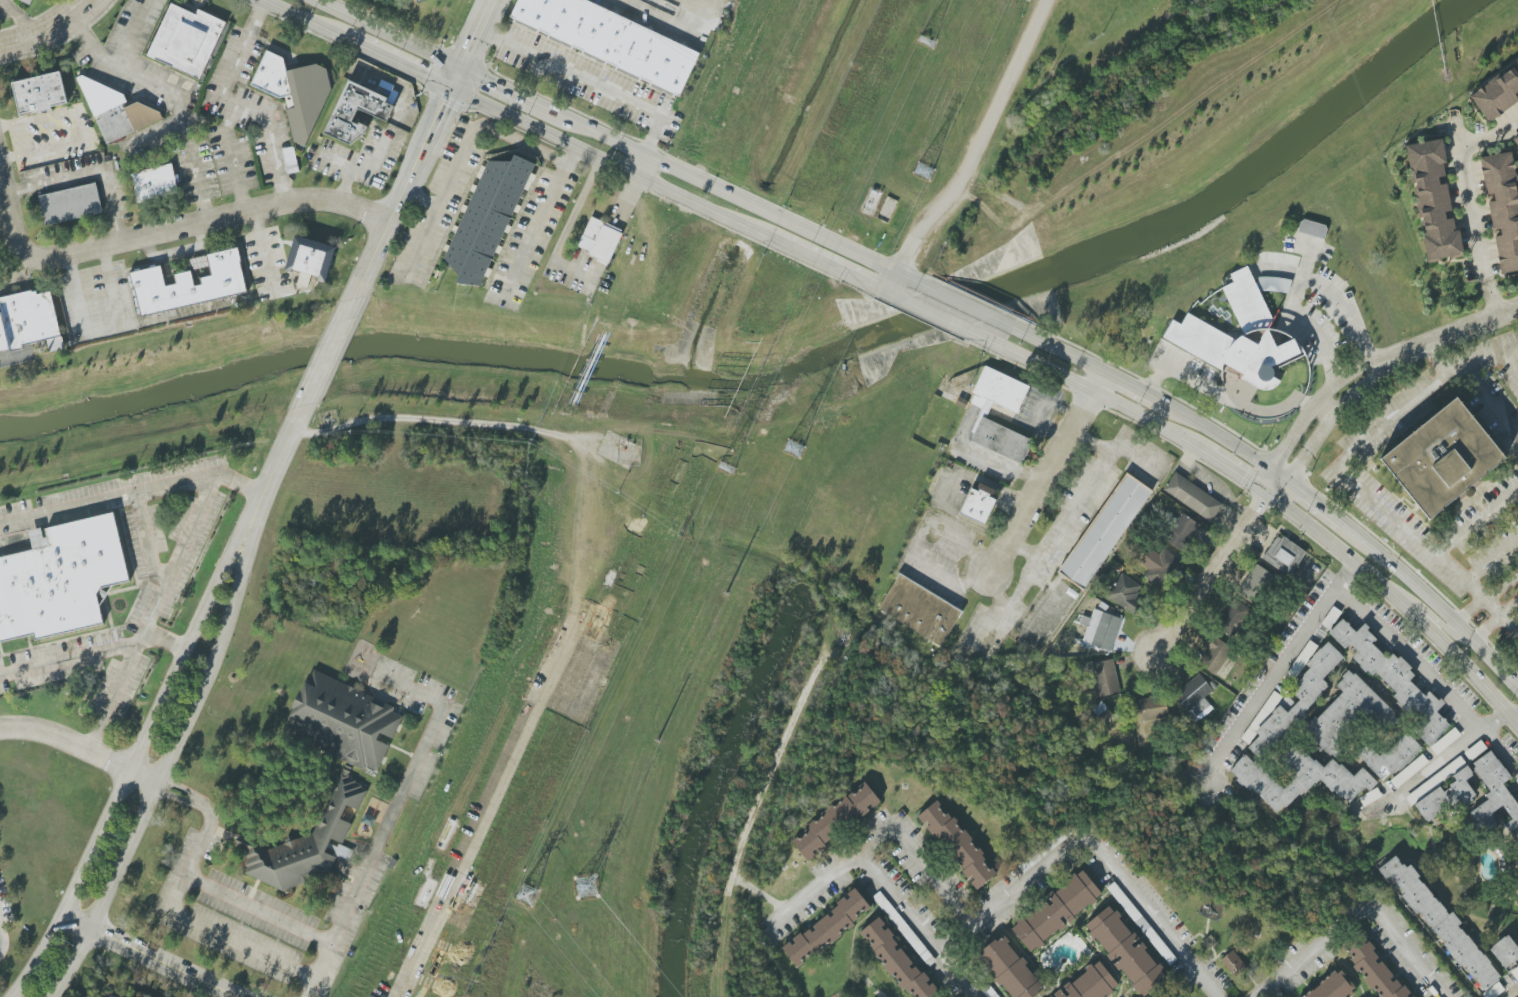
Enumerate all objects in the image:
building: (419, 0)
building: (26, 1)
road: (696, 6)
road: (657, 18)
road: (705, 18)
road: (305, 19)
road: (54, 31)
road: (476, 33)
road: (385, 34)
road: (138, 36)
building: (186, 40)
building: (607, 41)
power tower: (926, 41)
traffic signals: (462, 68)
road: (117, 70)
road: (588, 80)
road: (496, 84)
traffic signals: (452, 89)
building: (295, 92)
building: (39, 93)
building: (1497, 93)
road: (235, 107)
building: (115, 110)
building: (356, 112)
road: (76, 132)
road: (1487, 136)
building: (1516, 140)
road: (563, 141)
road: (980, 142)
road: (459, 158)
road: (232, 160)
building: (290, 160)
power tower: (922, 172)
road: (91, 175)
road: (199, 182)
road: (407, 182)
building: (154, 183)
road: (730, 196)
road: (420, 200)
building: (1434, 201)
building: (70, 204)
road: (1470, 206)
building: (1503, 206)
building: (487, 219)
road: (538, 227)
building: (1312, 229)
road: (164, 233)
building: (599, 239)
building: (309, 259)
road: (830, 266)
road: (886, 280)
road: (1302, 280)
building: (189, 285)
road: (890, 295)
road: (1494, 299)
building: (1247, 302)
road: (972, 308)
road: (938, 317)
building: (27, 319)
road: (102, 332)
road: (1463, 333)
building: (1199, 340)
road: (1058, 351)
road: (327, 352)
building: (1259, 359)
road: (1510, 359)
road: (1437, 361)
road: (1130, 387)
building: (1001, 389)
road: (1091, 389)
road: (1221, 395)
road: (1322, 395)
building: (1517, 399)
road: (1491, 402)
road: (1338, 412)
road: (1322, 413)
road: (437, 419)
road: (1219, 437)
building: (1001, 440)
power tower: (792, 449)
road: (280, 454)
building: (1442, 458)
power tower: (727, 466)
road: (1234, 474)
road: (1045, 475)
road: (1345, 476)
road: (133, 486)
building: (1192, 497)
road: (1074, 500)
road: (1310, 500)
building: (978, 503)
road: (1485, 514)
building: (1105, 531)
building: (1182, 532)
road: (146, 536)
building: (1284, 555)
road: (1491, 561)
road: (1216, 565)
building: (1162, 568)
building: (60, 579)
building: (1256, 584)
building: (1125, 593)
road: (1485, 597)
road: (1398, 602)
road: (1433, 603)
building: (919, 610)
road: (153, 612)
building: (1233, 618)
road: (1435, 619)
road: (1494, 620)
building: (1101, 627)
road: (93, 649)
building: (1214, 654)
road: (1275, 671)
road: (1430, 673)
building: (1106, 678)
building: (1394, 680)
building: (1193, 696)
building: (1296, 698)
building: (1150, 709)
building: (1102, 713)
building: (1348, 715)
building: (1445, 741)
road: (81, 746)
road: (139, 751)
road: (170, 756)
building: (1390, 757)
road: (1444, 759)
building: (1409, 771)
building: (1298, 778)
building: (344, 779)
building: (1492, 790)
building: (1446, 796)
road: (194, 800)
building: (835, 820)
road: (876, 839)
building: (958, 844)
road: (1094, 847)
building: (1516, 883)
power tower: (586, 887)
power tower: (528, 896)
road: (348, 903)
building: (1055, 911)
building: (1134, 914)
road: (1360, 914)
building: (1440, 922)
road: (918, 924)
building: (827, 927)
building: (902, 927)
road: (224, 936)
building: (1126, 951)
building: (1505, 951)
road: (148, 957)
building: (897, 961)
building: (1234, 964)
building: (1373, 967)
road: (317, 969)
building: (1009, 970)
building: (1515, 973)
building: (1090, 983)
building: (1332, 987)
building: (990, 991)
road: (1513, 992)
building: (118, 996)

